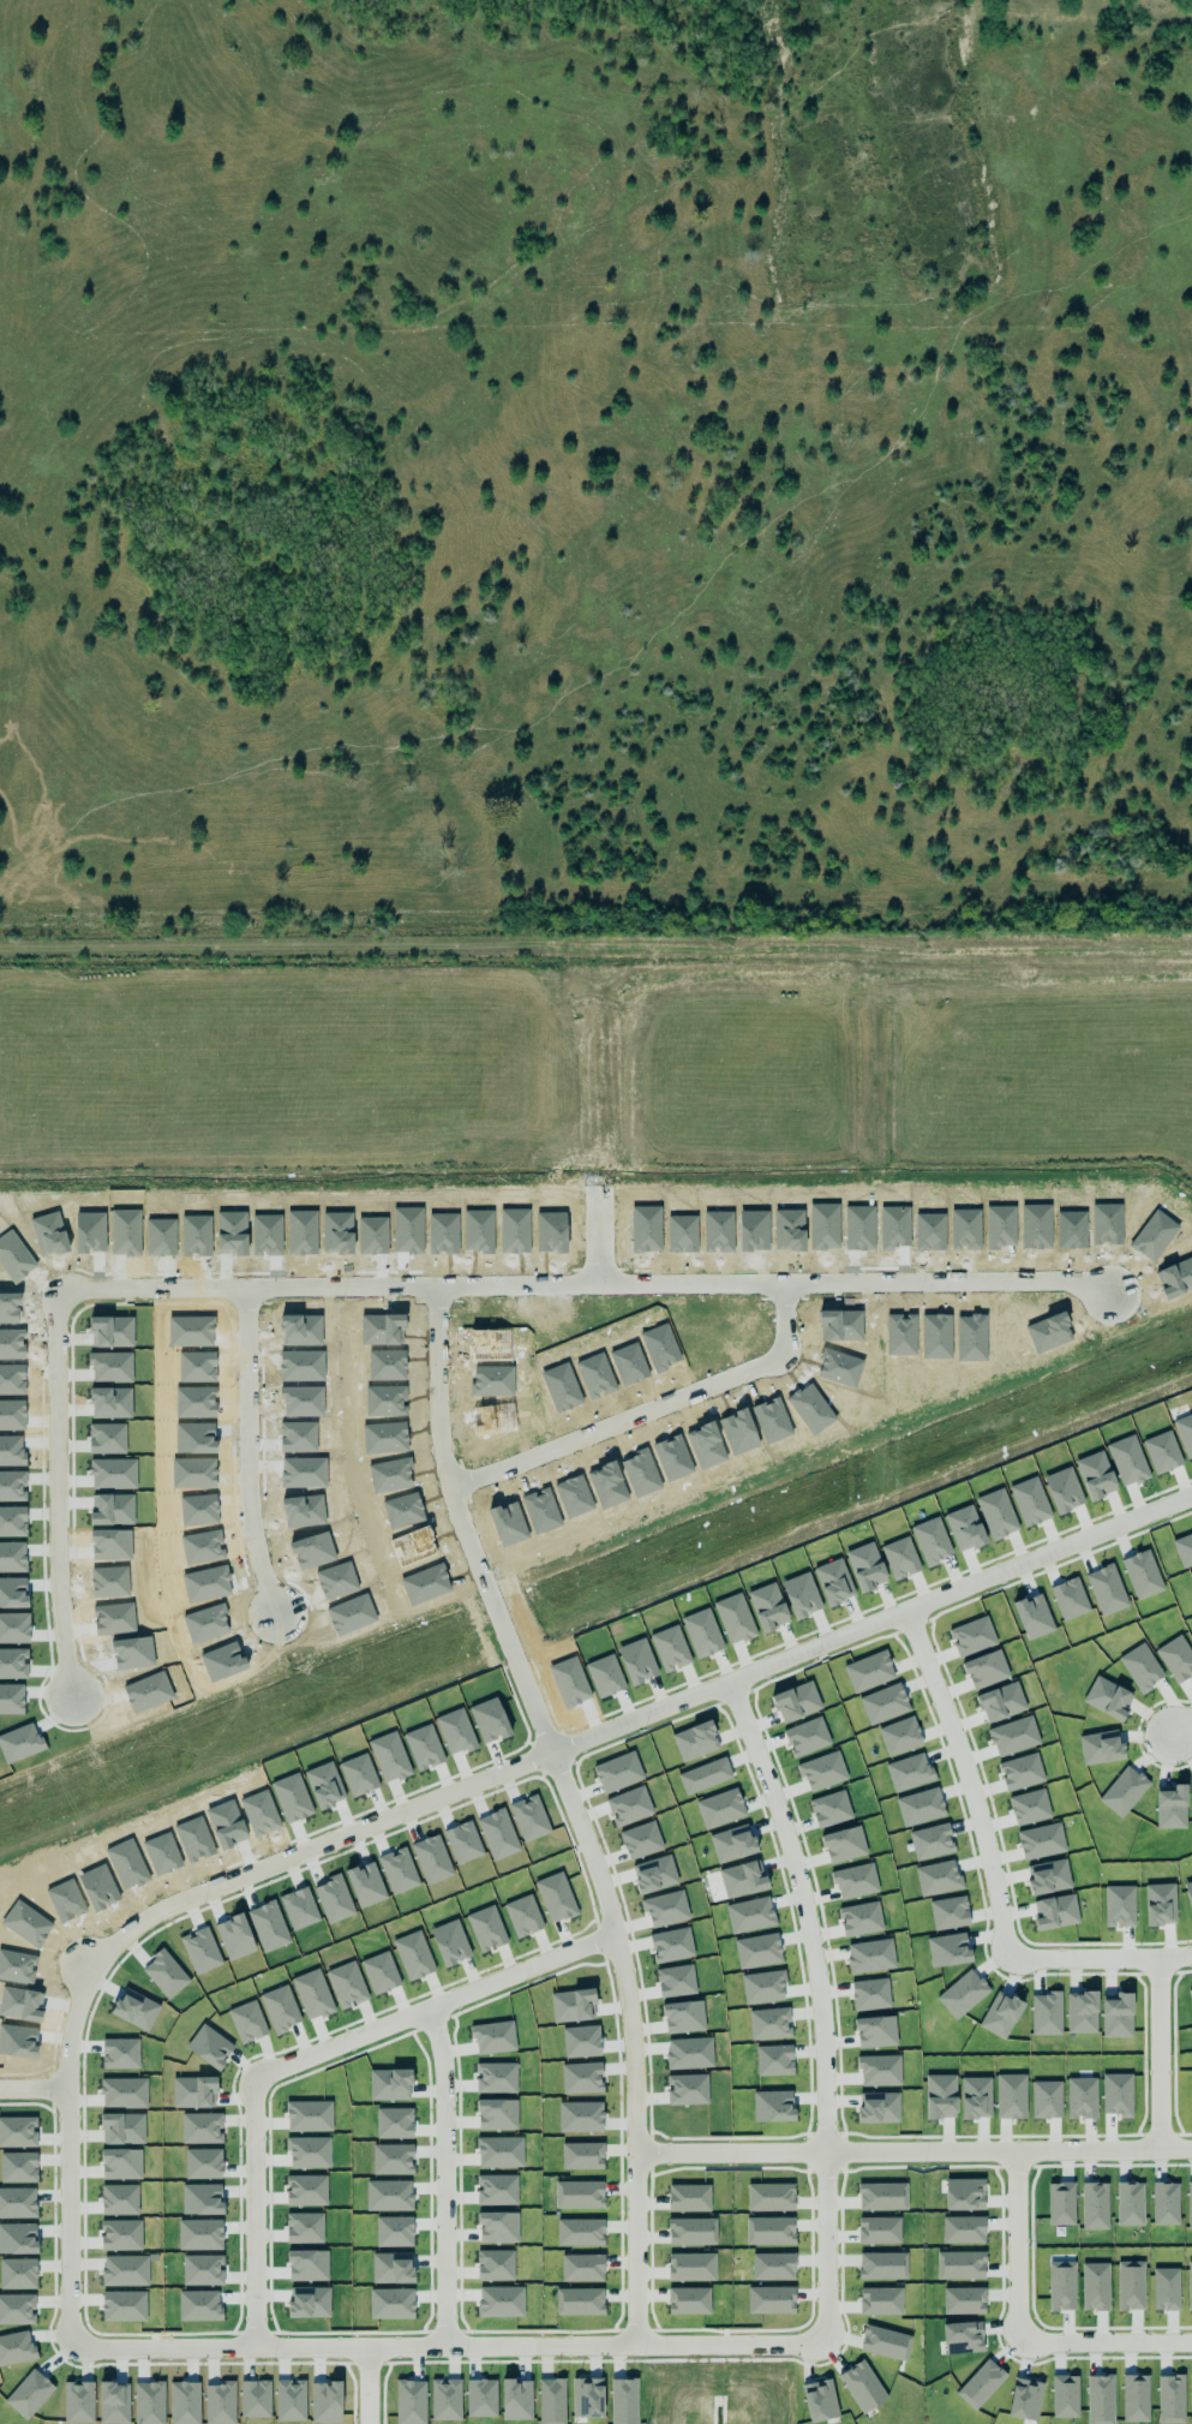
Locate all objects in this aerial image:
road: (595, 1236)
road: (779, 1284)
road: (298, 1286)
road: (654, 1410)
road: (252, 1451)
road: (1179, 1721)
road: (992, 1867)
road: (124, 1941)
building: (1190, 1995)
road: (819, 2000)
road: (640, 2042)
road: (319, 2054)
road: (1156, 2054)
road: (37, 2090)
road: (916, 2150)
building: (582, 2155)
road: (451, 2177)
building: (964, 2193)
building: (579, 2195)
building: (882, 2196)
building: (689, 2197)
building: (771, 2197)
building: (1061, 2203)
building: (1130, 2203)
building: (1166, 2203)
building: (1190, 2204)
building: (1095, 2205)
building: (879, 2229)
building: (963, 2229)
building: (691, 2231)
building: (769, 2231)
building: (580, 2232)
building: (960, 2264)
building: (772, 2265)
building: (882, 2265)
building: (582, 2267)
building: (691, 2267)
building: (1061, 2285)
building: (1130, 2285)
building: (1190, 2285)
building: (1095, 2286)
building: (1166, 2288)
building: (771, 2299)
building: (579, 2300)
building: (688, 2300)
building: (880, 2300)
building: (964, 2300)
road: (1018, 2329)
building: (963, 2338)
building: (886, 2342)
building: (981, 2384)
road: (367, 2386)
building: (863, 2387)
building: (1065, 2396)
building: (587, 2398)
building: (1136, 2398)
building: (1025, 2399)
building: (1100, 2399)
building: (1170, 2399)
building: (820, 2400)
building: (551, 2401)
building: (624, 2401)

